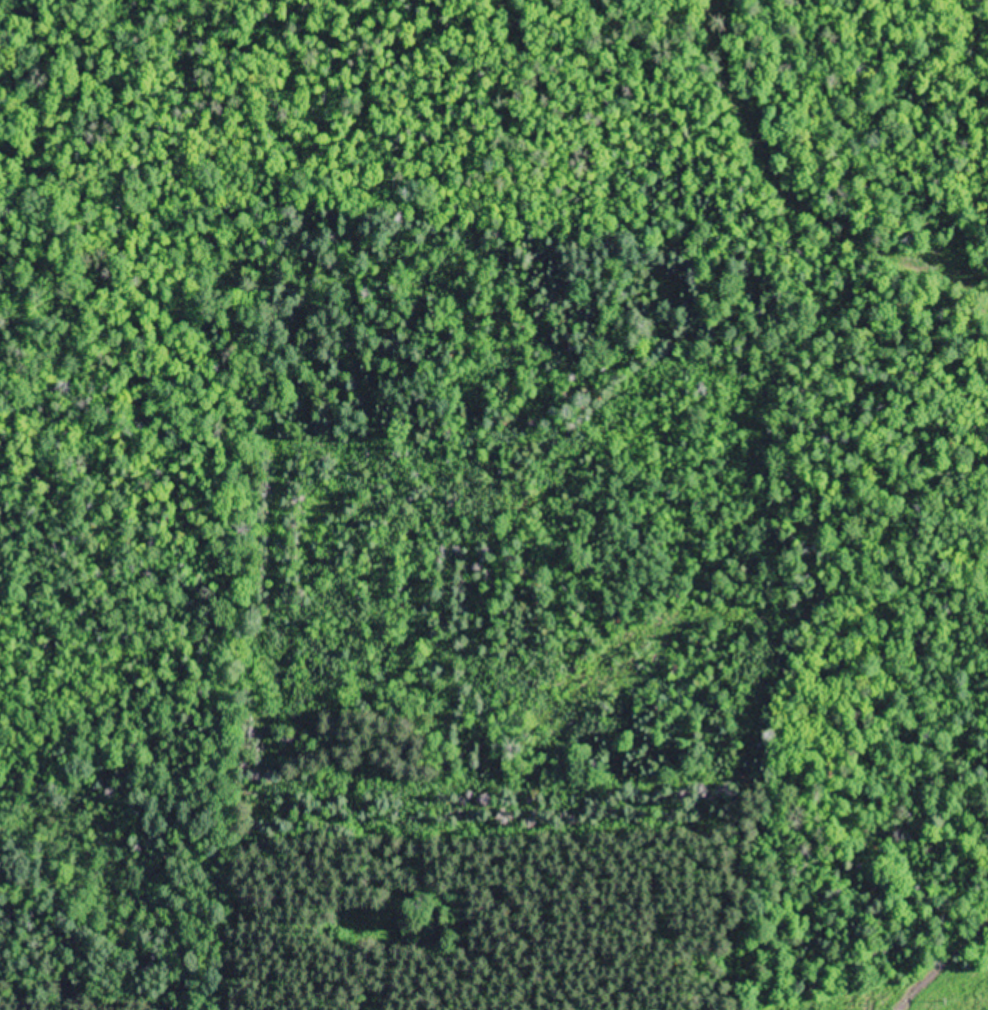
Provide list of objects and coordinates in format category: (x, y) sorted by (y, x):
power tower: (956, 1002)

